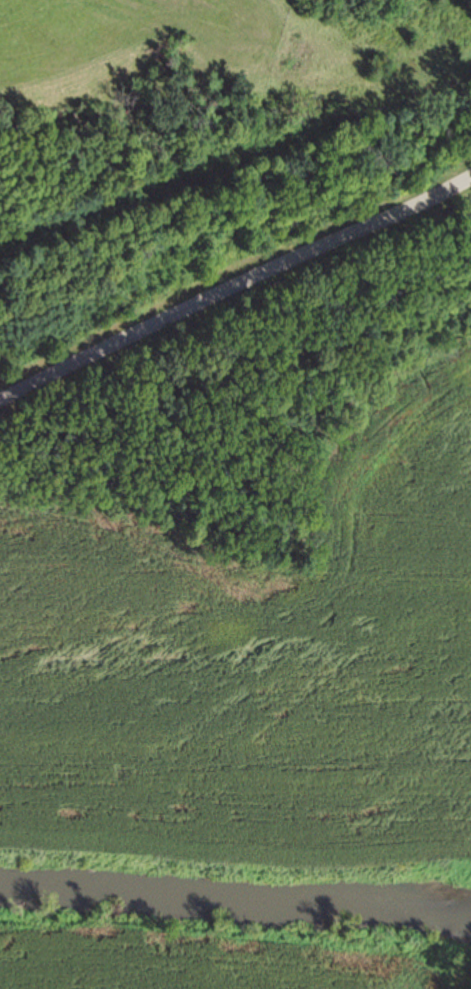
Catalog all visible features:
road: (236, 290)
river: (236, 898)

